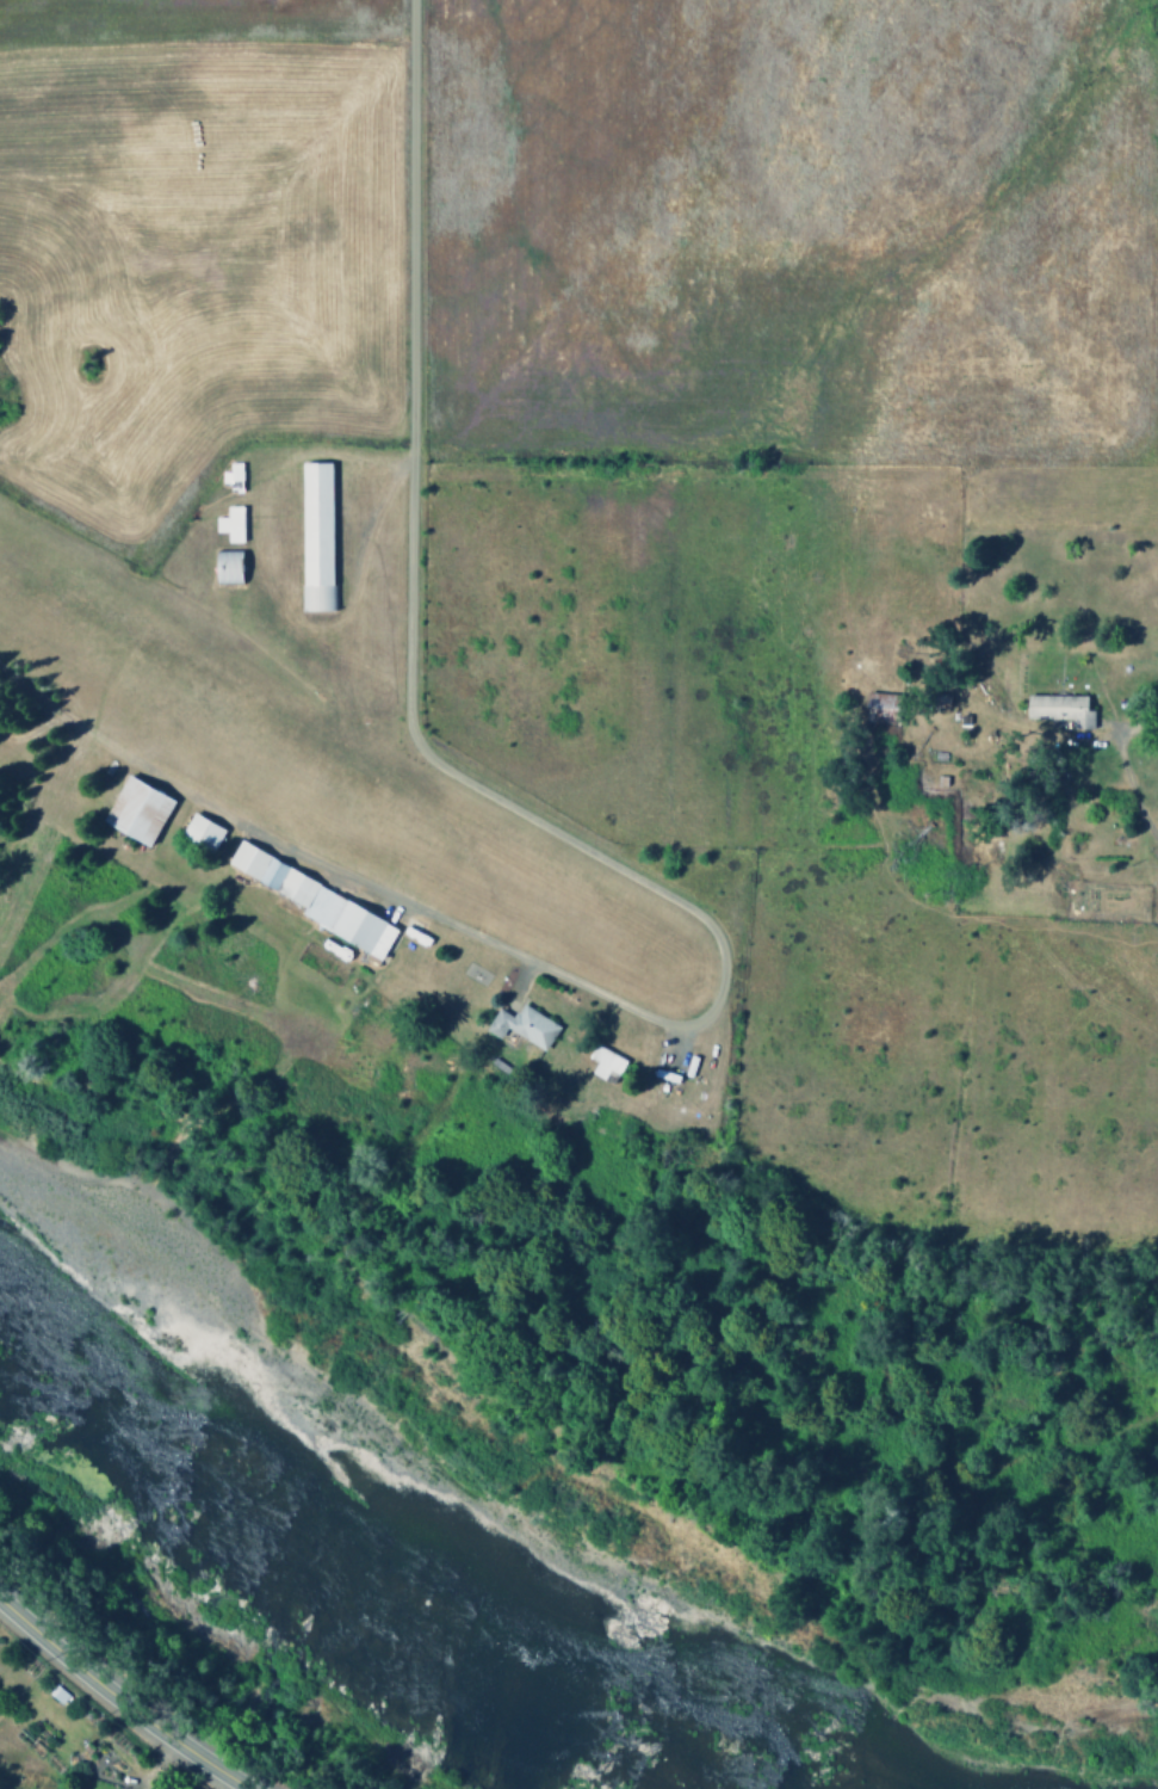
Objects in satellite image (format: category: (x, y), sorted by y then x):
building: (231, 473)
building: (229, 524)
building: (315, 536)
building: (880, 708)
building: (1059, 709)
airport runway: (338, 779)
building: (136, 810)
road: (562, 828)
building: (200, 832)
building: (320, 903)
airport: (351, 961)
building: (521, 1026)
building: (603, 1062)
river: (351, 1585)
road: (122, 1699)

